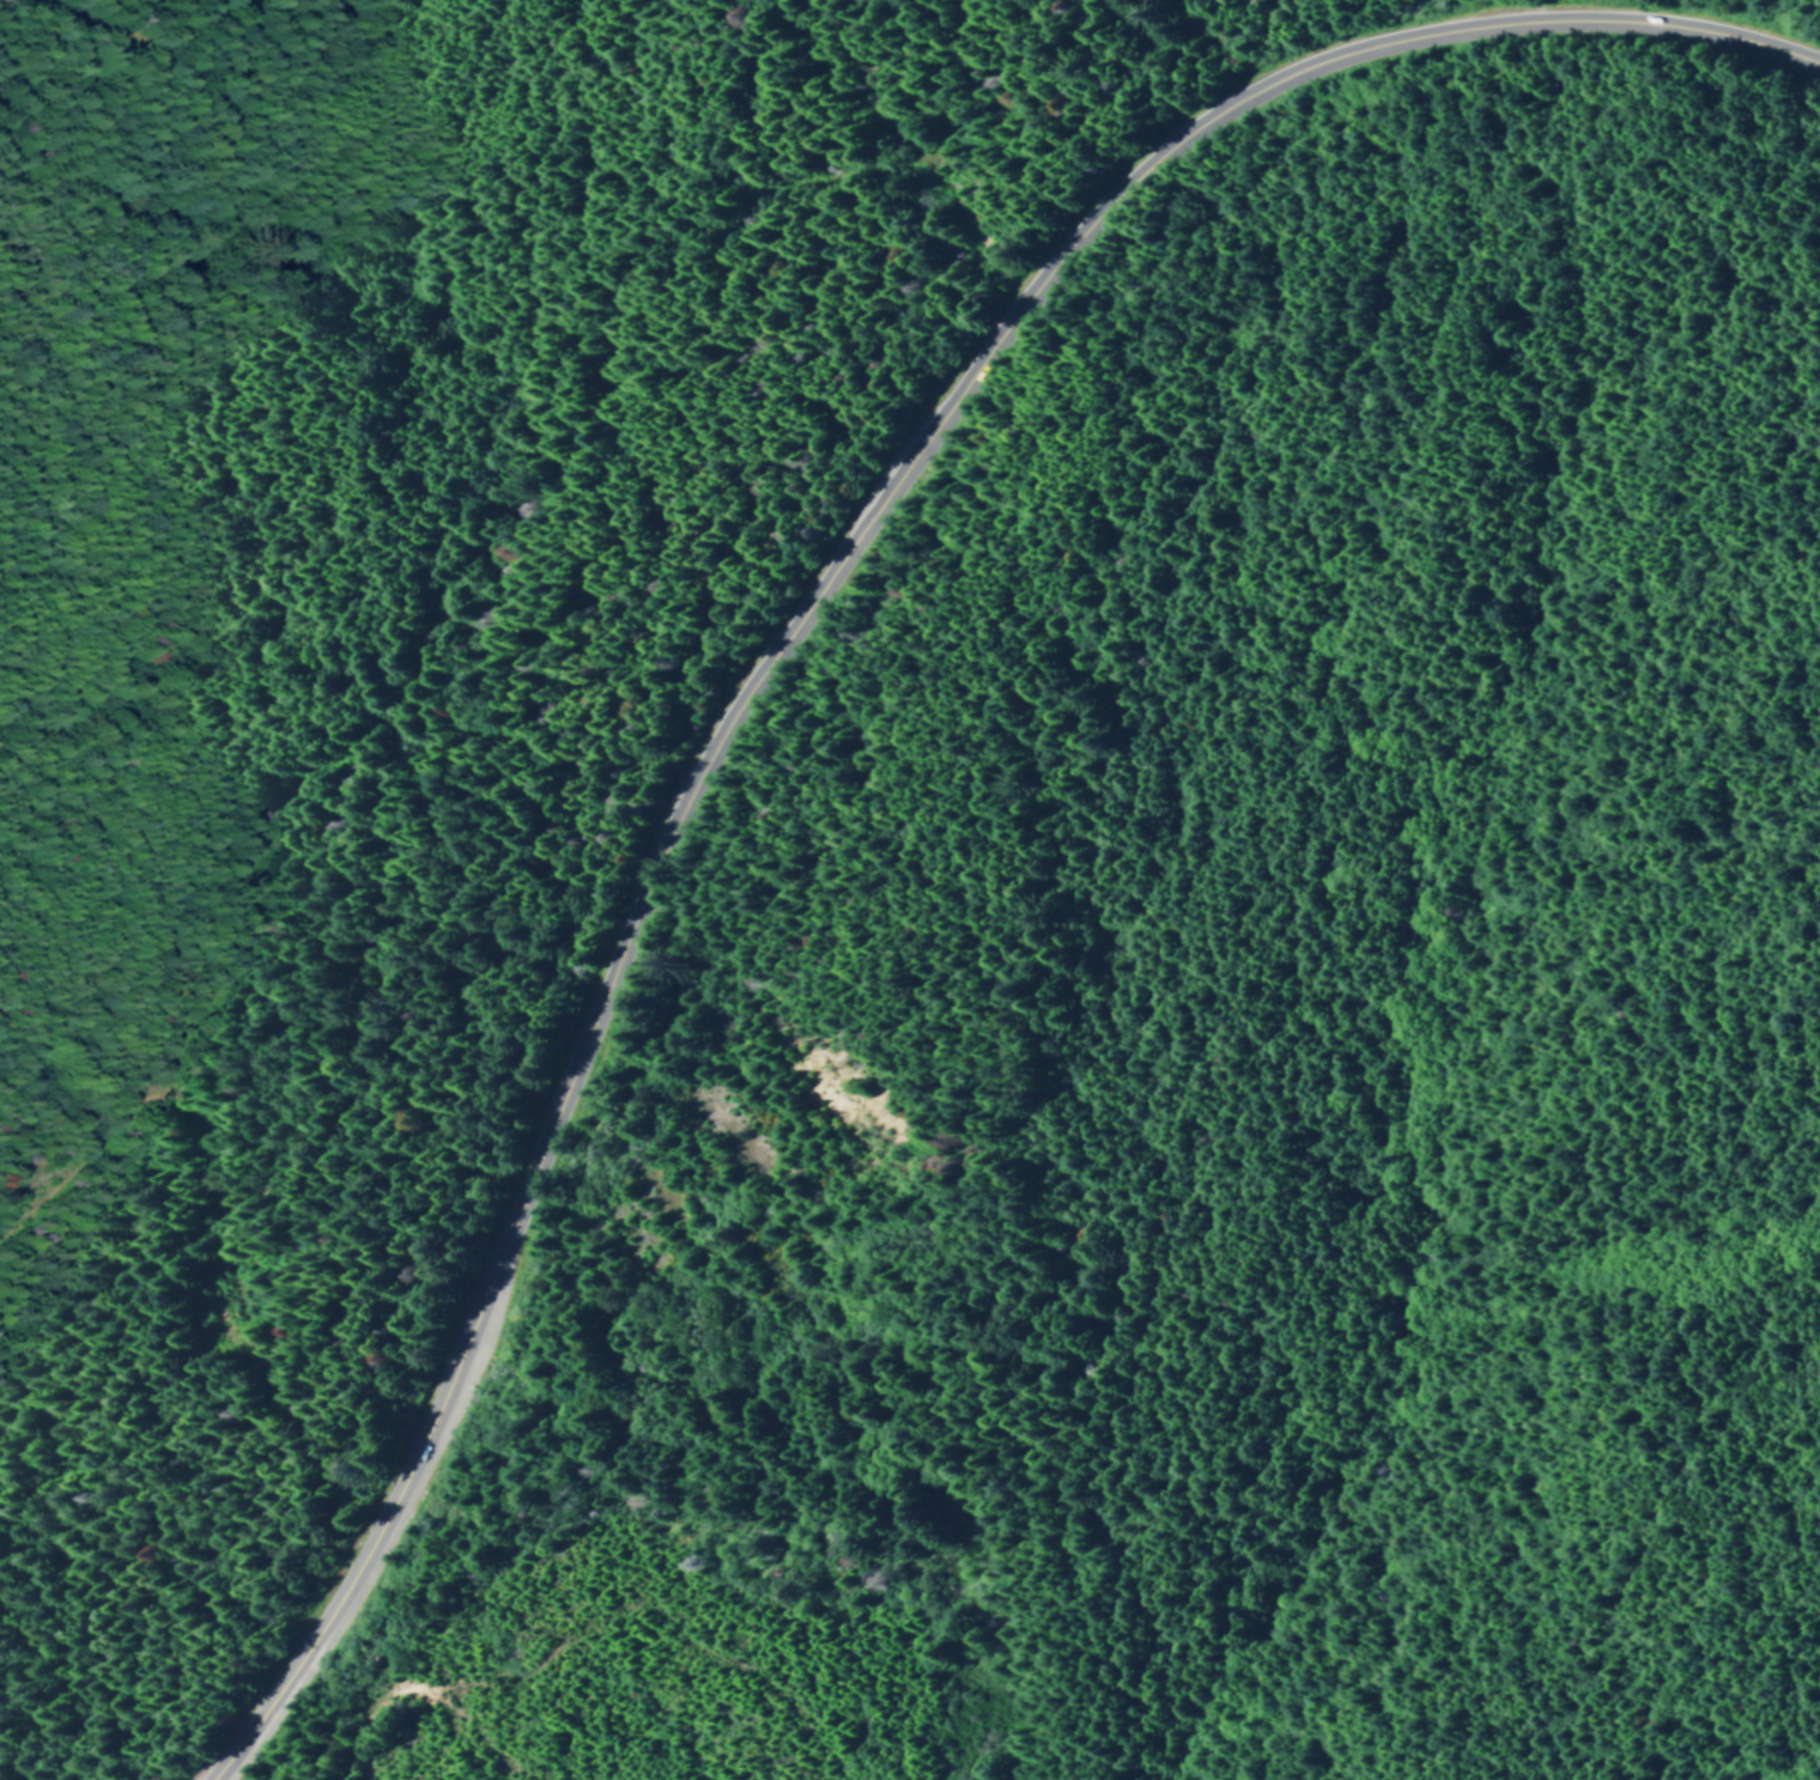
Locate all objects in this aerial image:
road: (779, 621)

